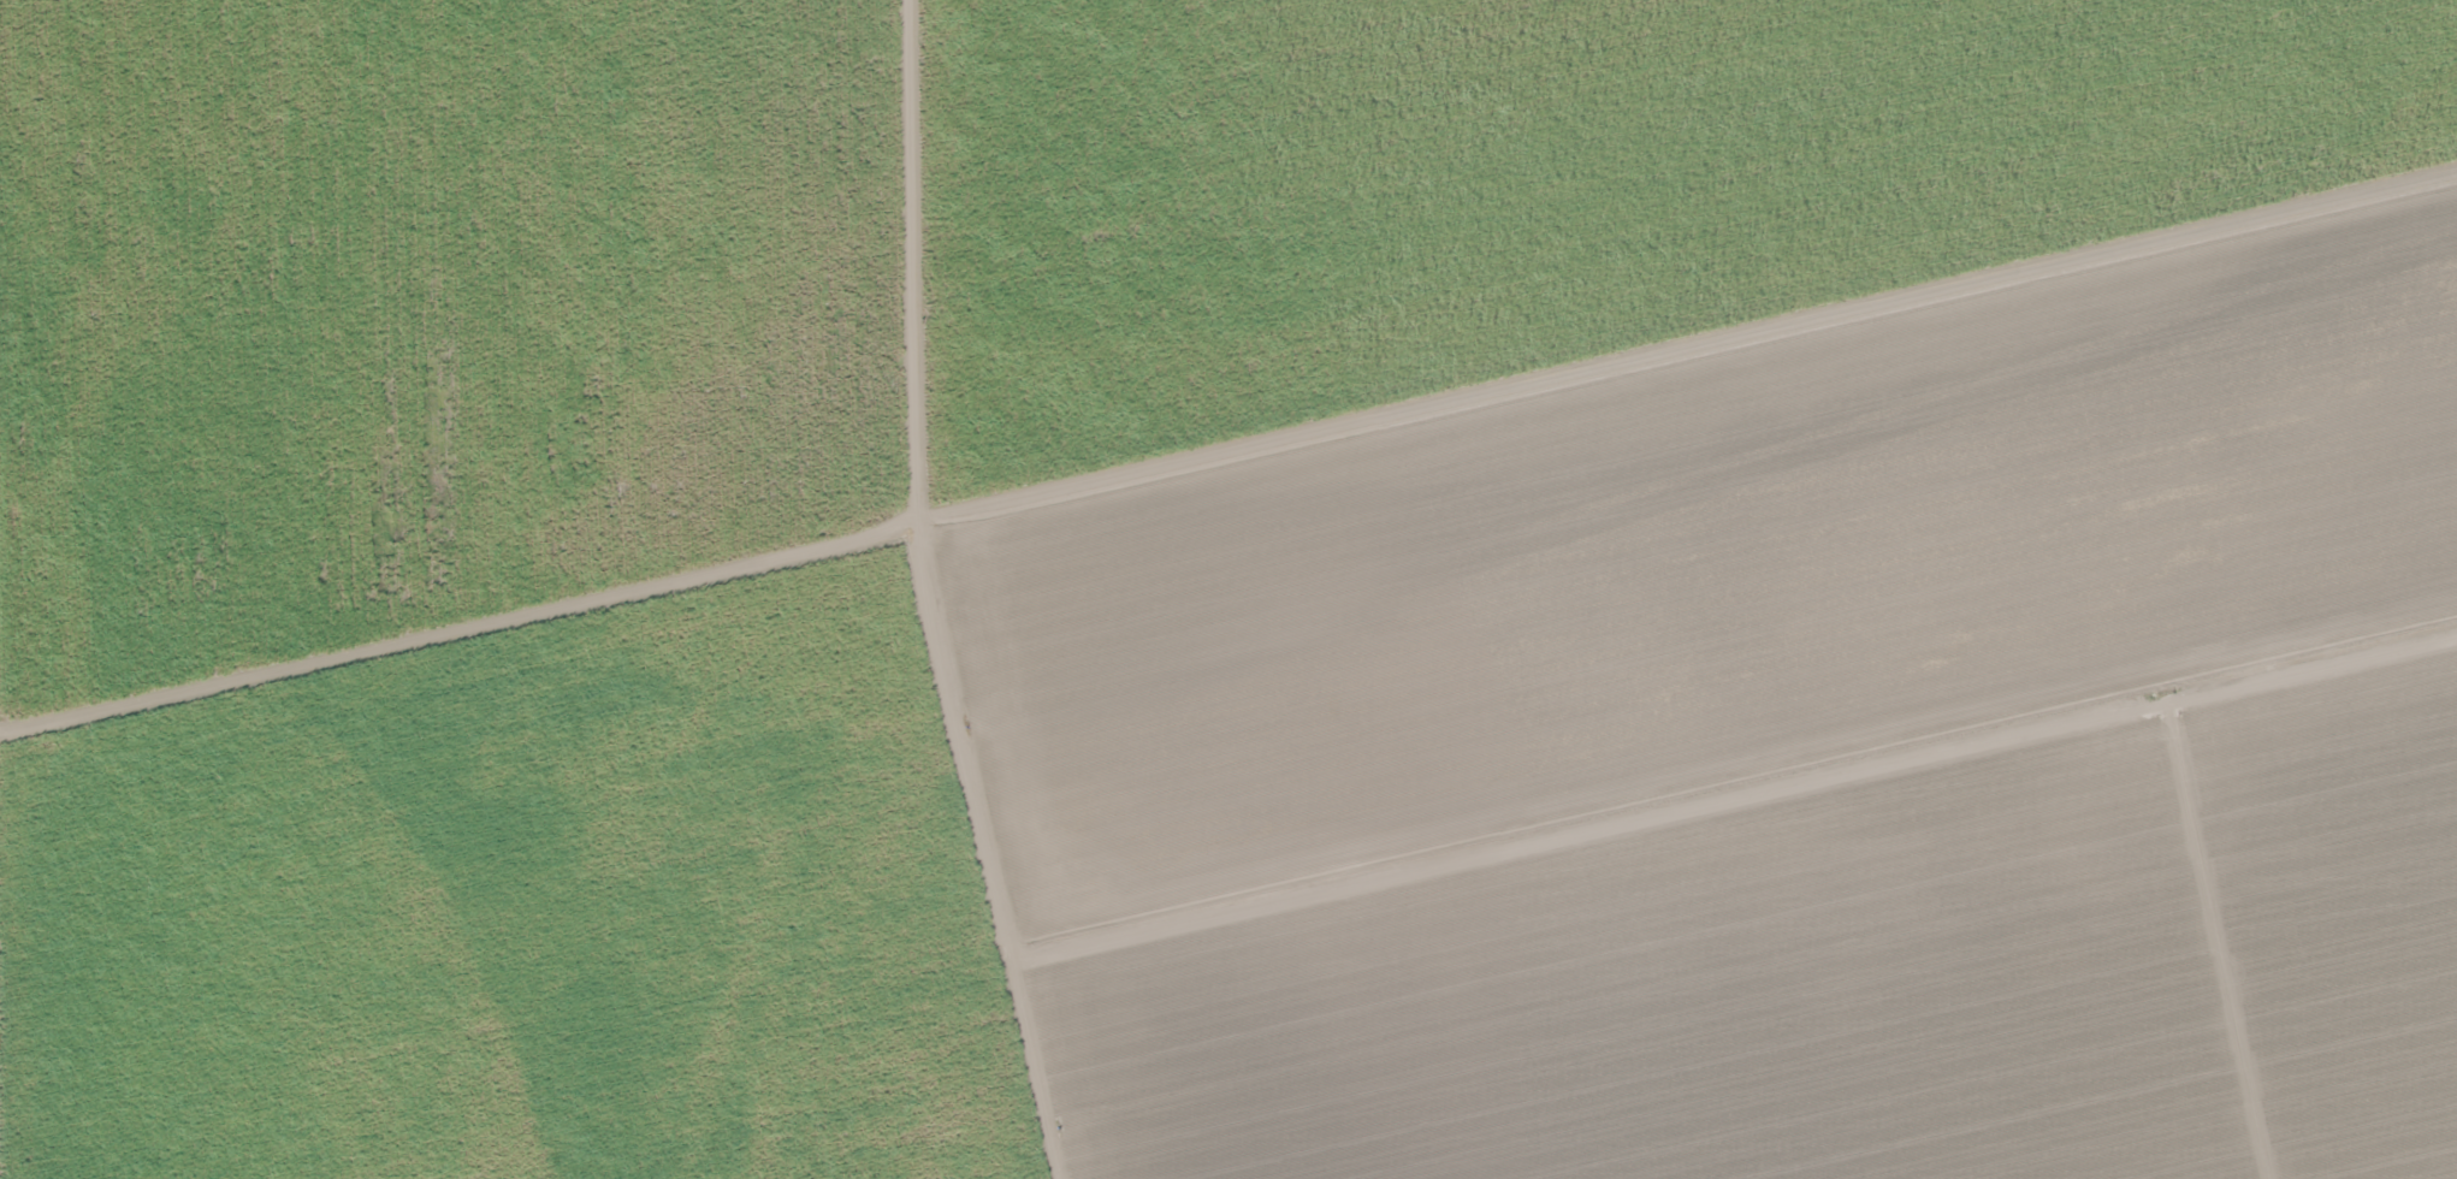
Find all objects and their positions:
road: (1227, 452)
road: (924, 597)
road: (1736, 806)
road: (2215, 943)

